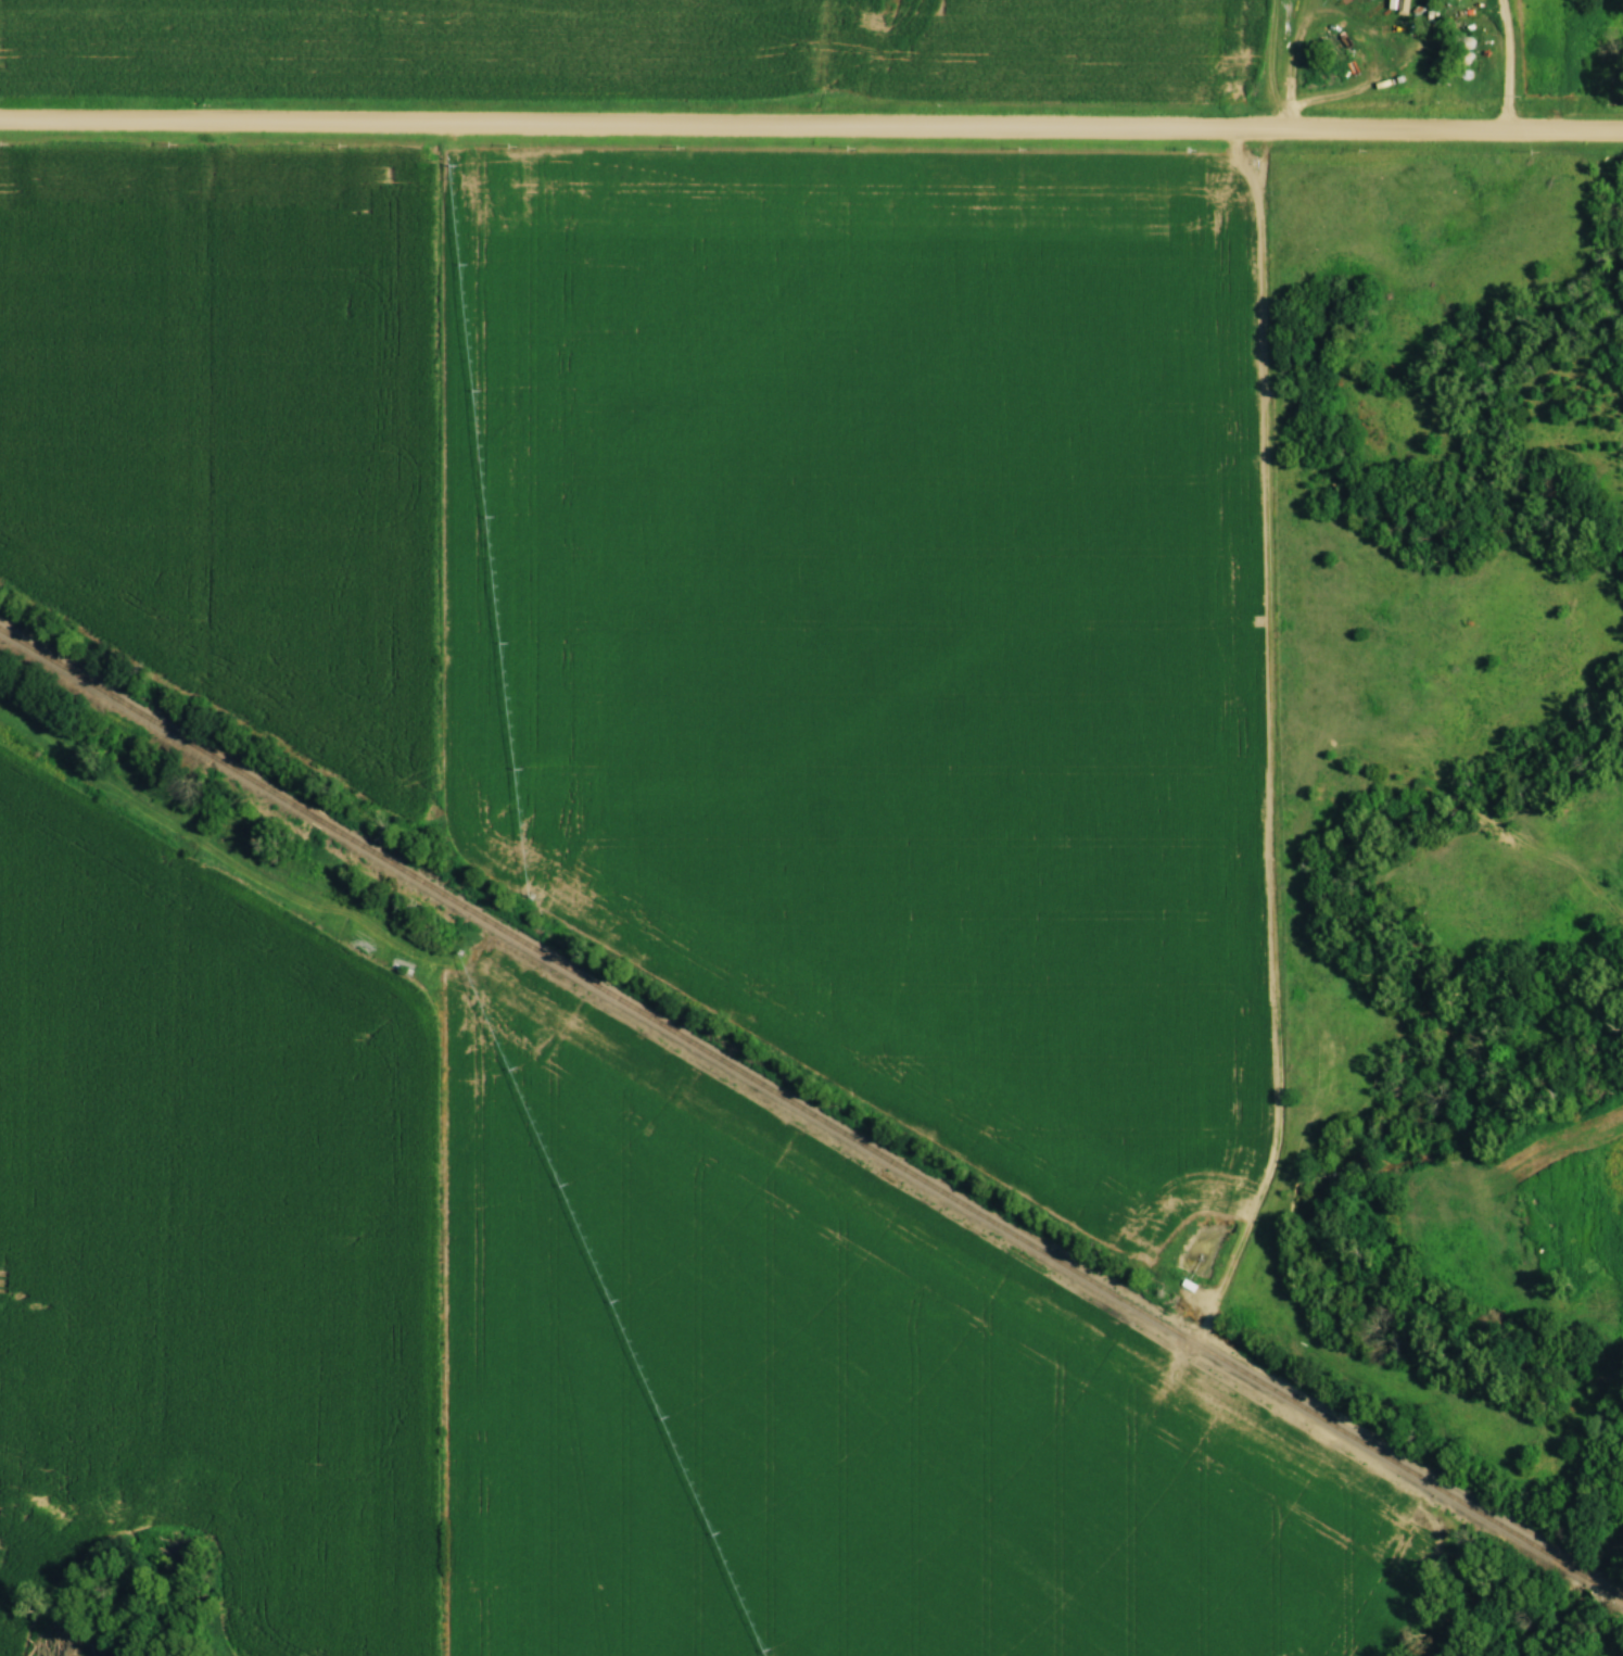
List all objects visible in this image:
road: (811, 126)
railway: (811, 1113)

